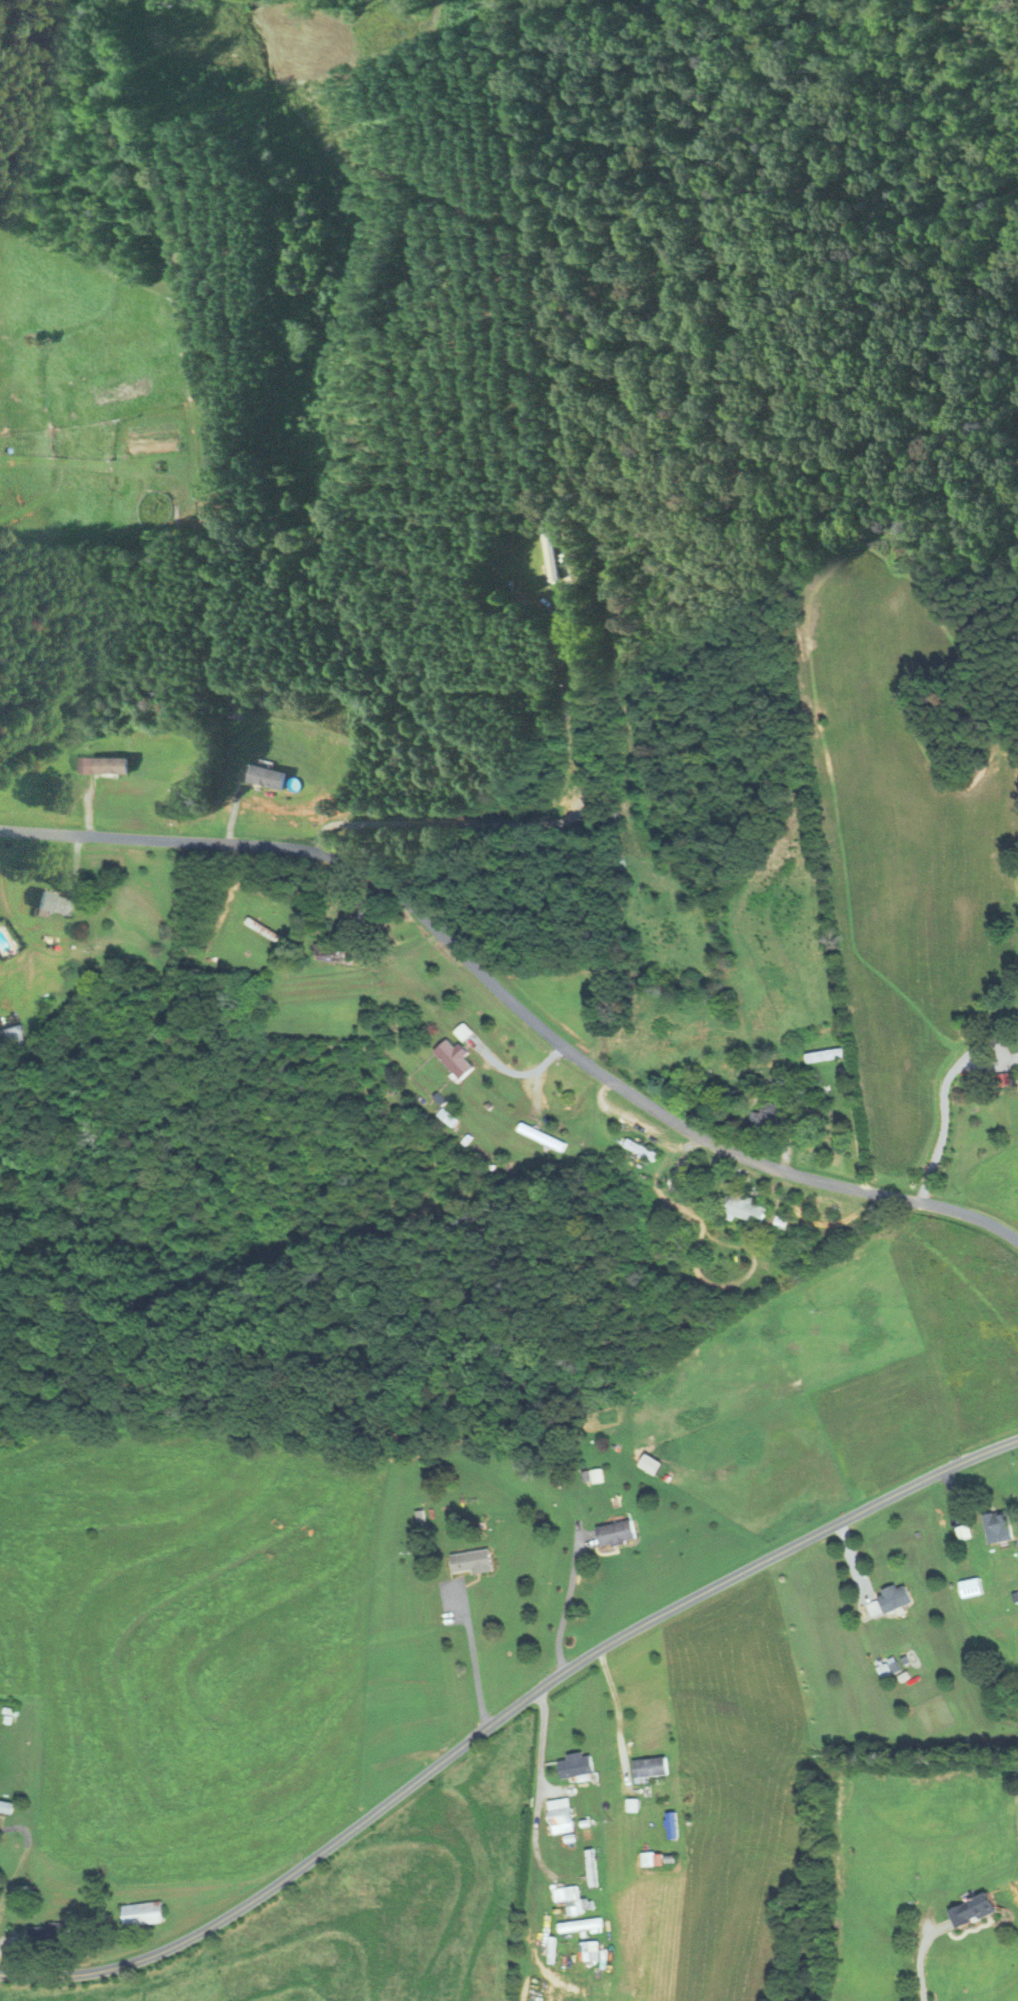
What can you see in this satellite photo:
building: (549, 555)
building: (112, 764)
building: (266, 775)
building: (57, 902)
building: (264, 928)
building: (332, 951)
road: (527, 986)
building: (14, 1034)
building: (830, 1054)
building: (1017, 1056)
building: (456, 1057)
road: (947, 1078)
building: (1004, 1078)
building: (713, 1097)
building: (769, 1115)
building: (837, 1117)
building: (544, 1136)
building: (642, 1148)
building: (698, 1177)
building: (745, 1207)
building: (1001, 1526)
building: (967, 1532)
building: (618, 1533)
building: (474, 1560)
building: (975, 1587)
building: (898, 1597)
road: (566, 1601)
road: (472, 1655)
road: (504, 1713)
building: (579, 1768)
building: (653, 1768)
road: (537, 1790)
building: (7, 1807)
building: (564, 1816)
building: (593, 1868)
building: (578, 1907)
building: (977, 1911)
building: (144, 1913)
building: (50, 1935)
road: (900, 1955)

